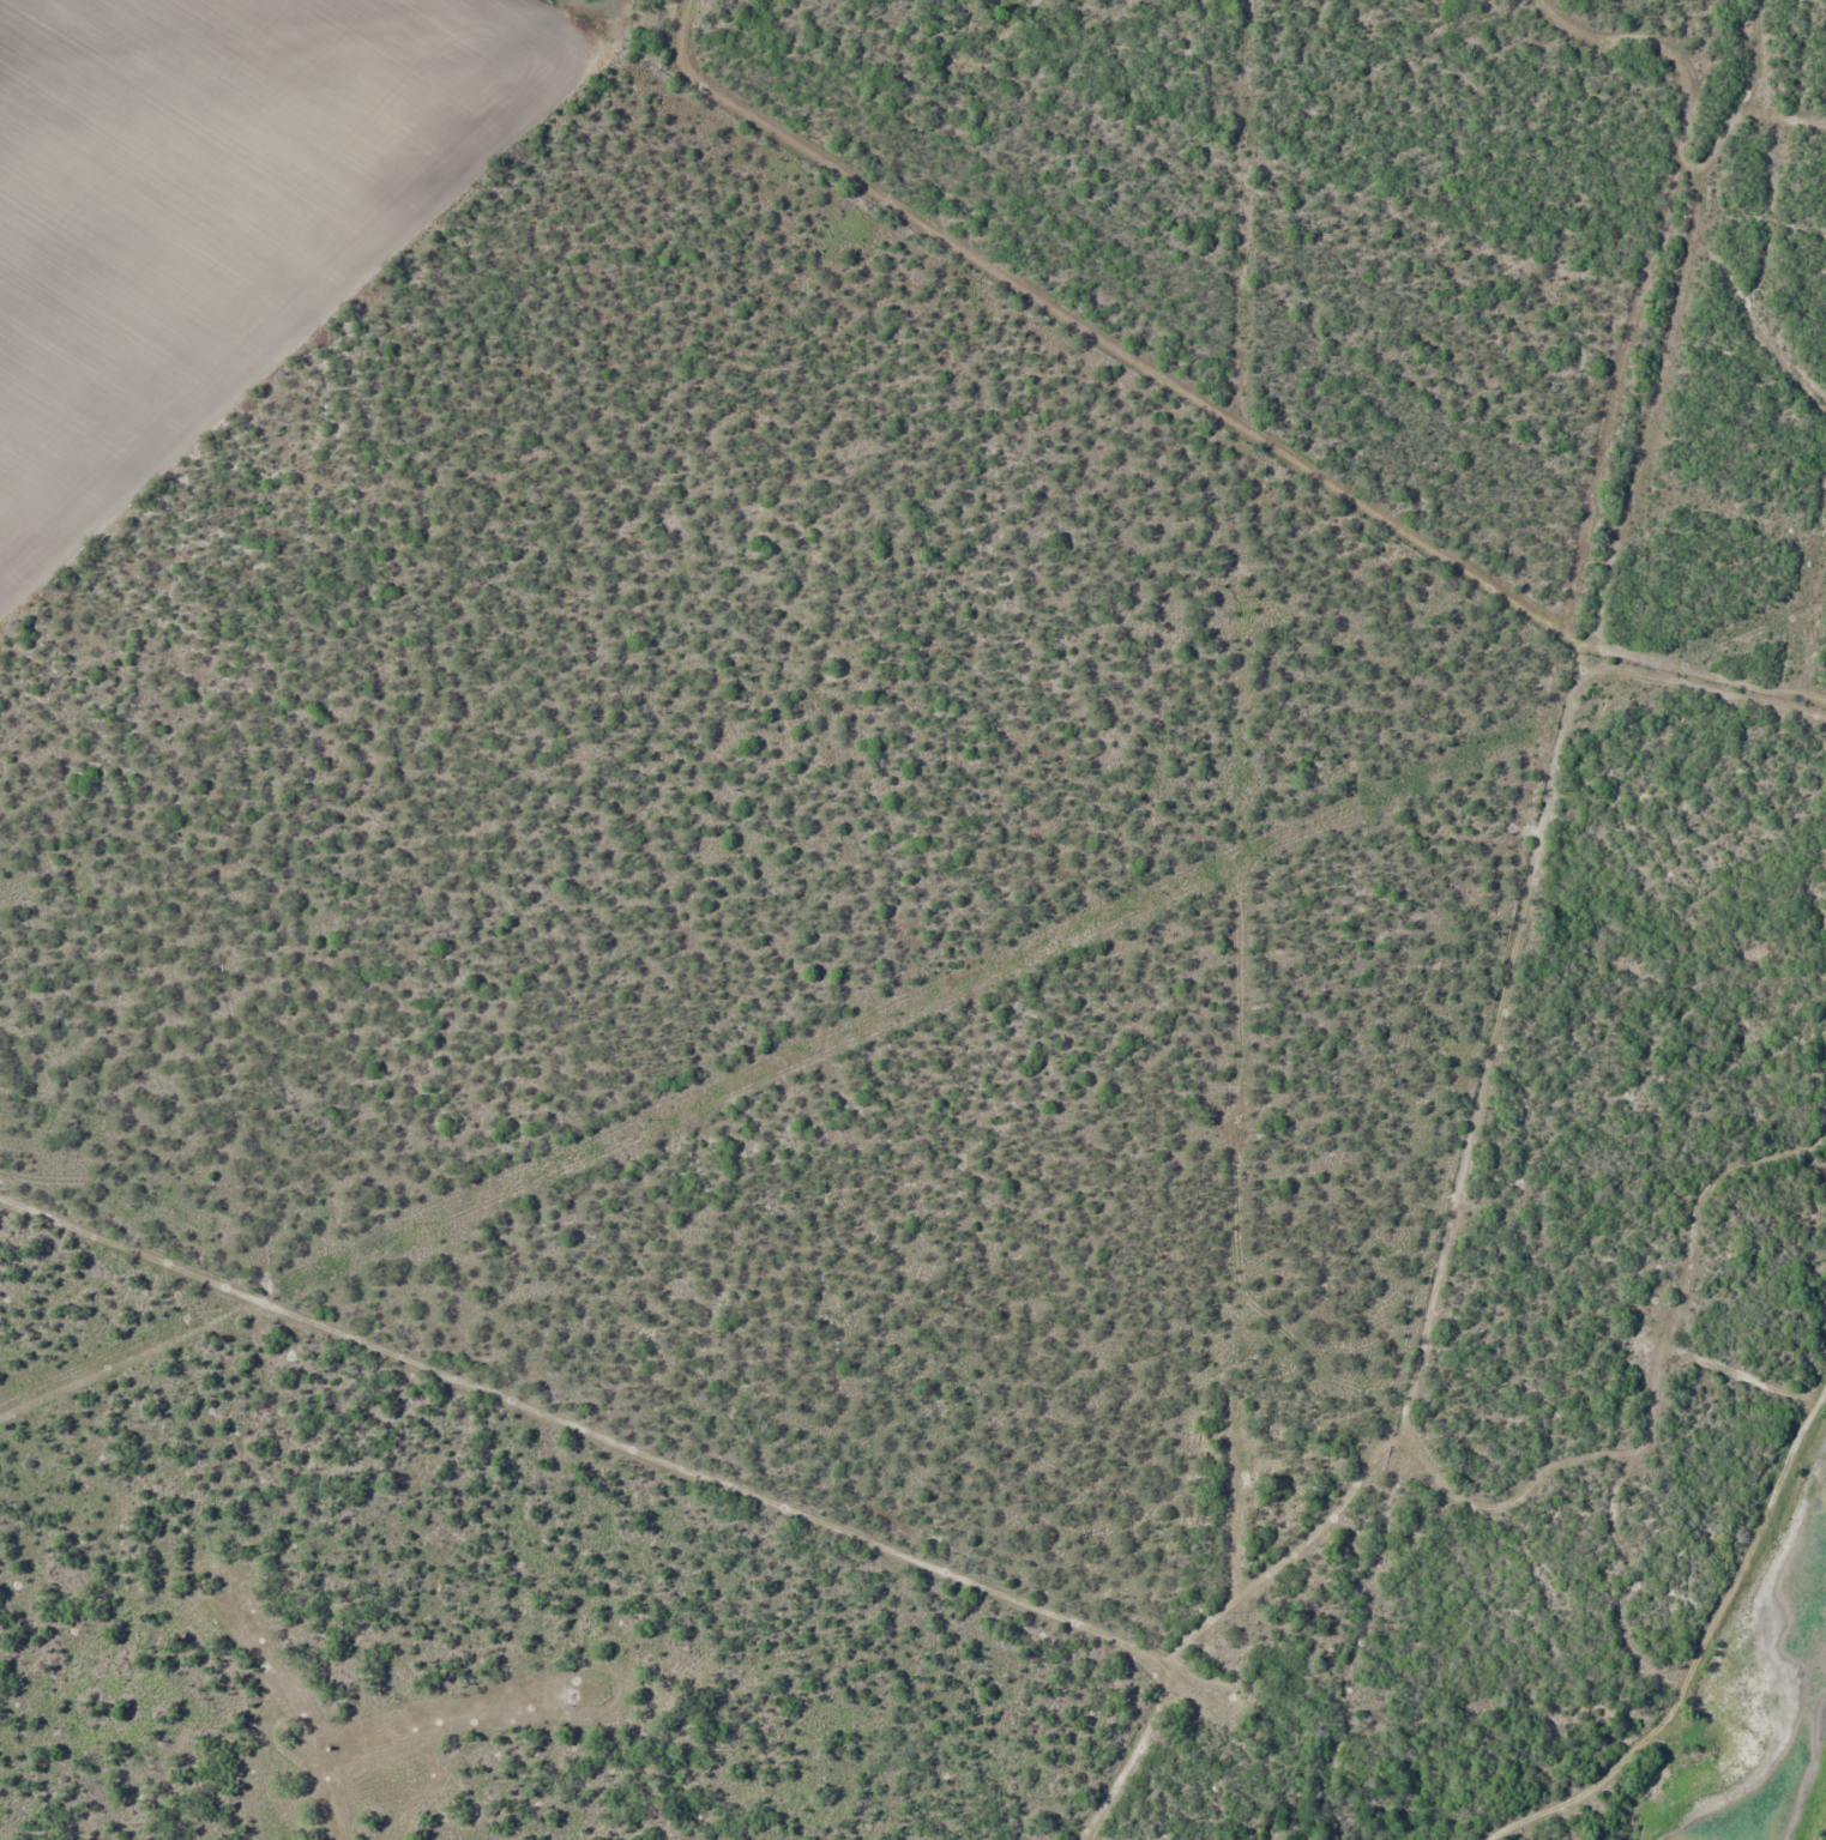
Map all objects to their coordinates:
road: (1734, 1663)

